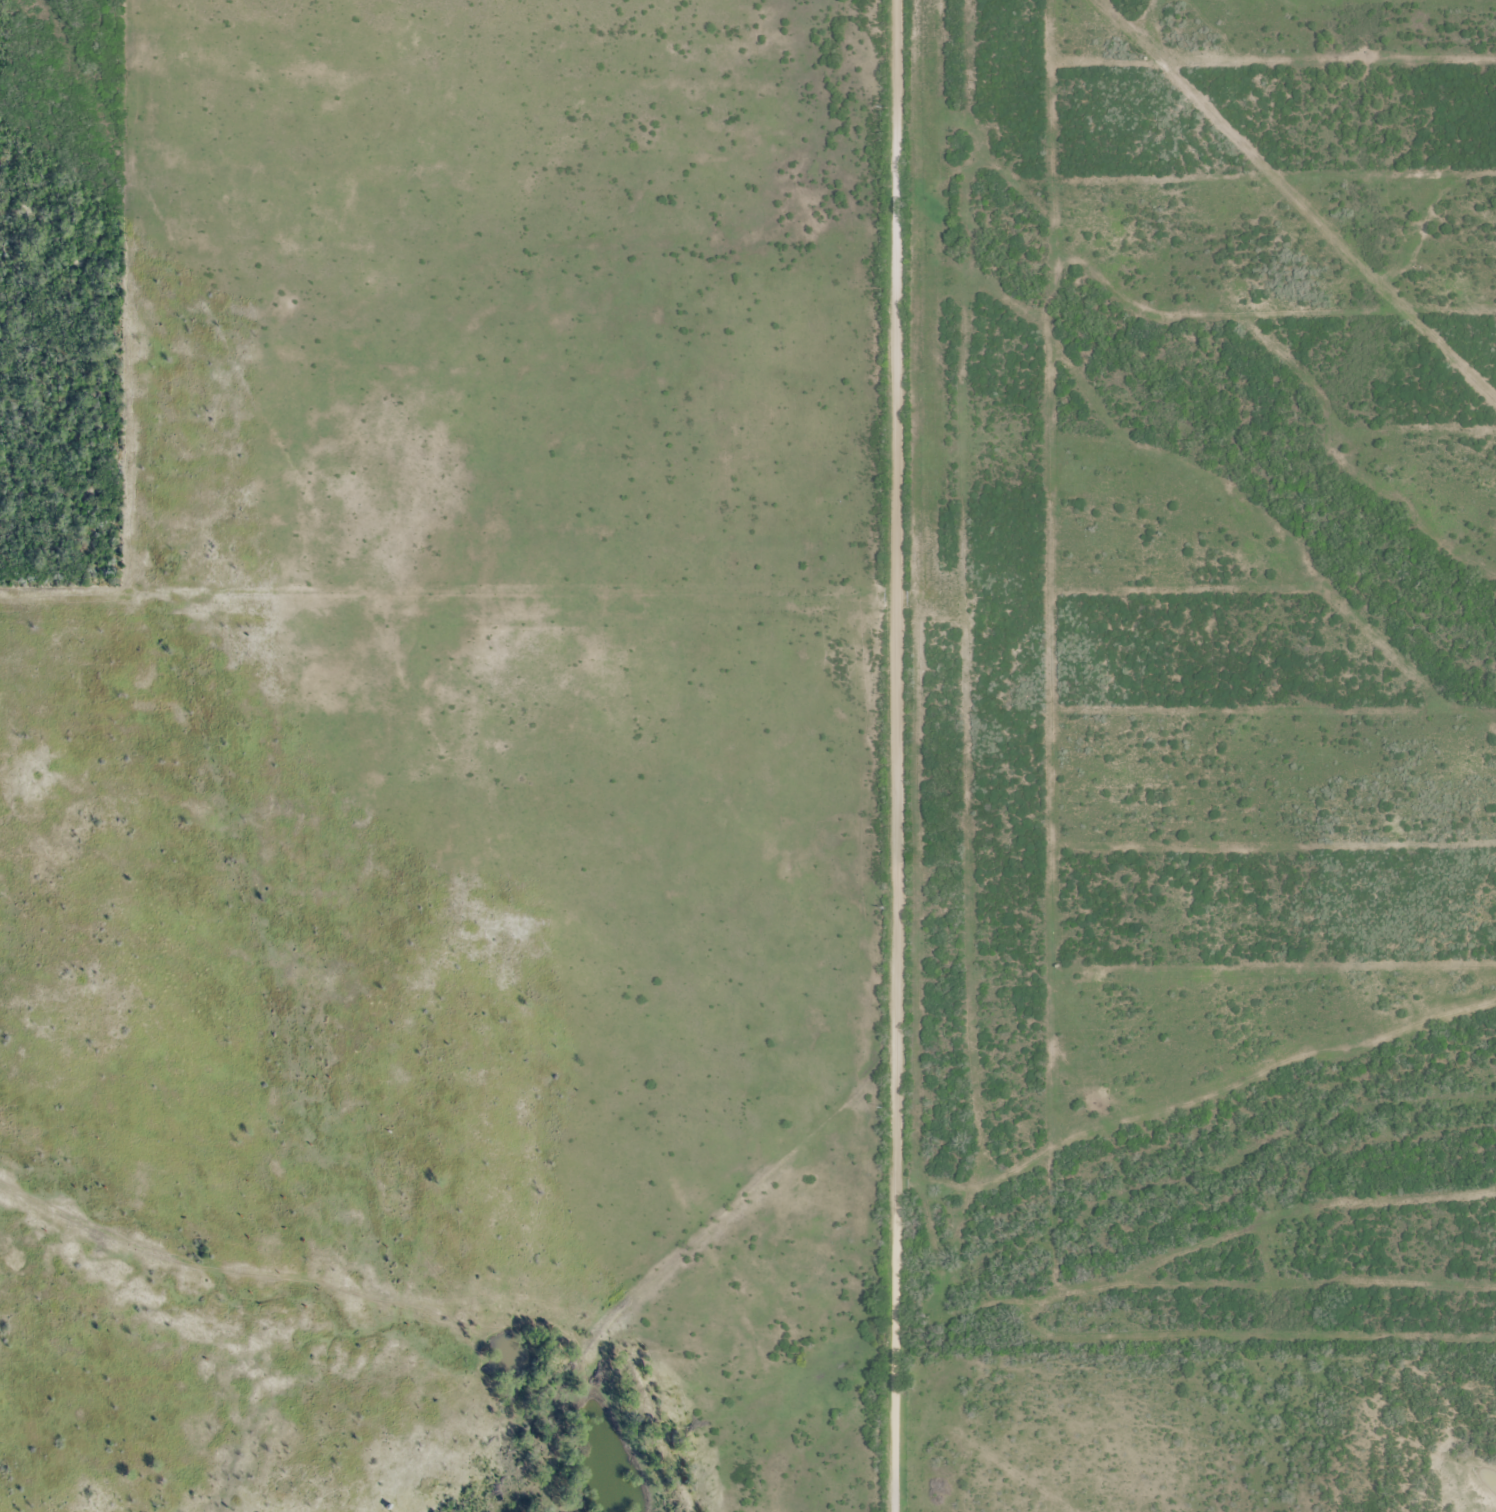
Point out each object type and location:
road: (893, 756)

